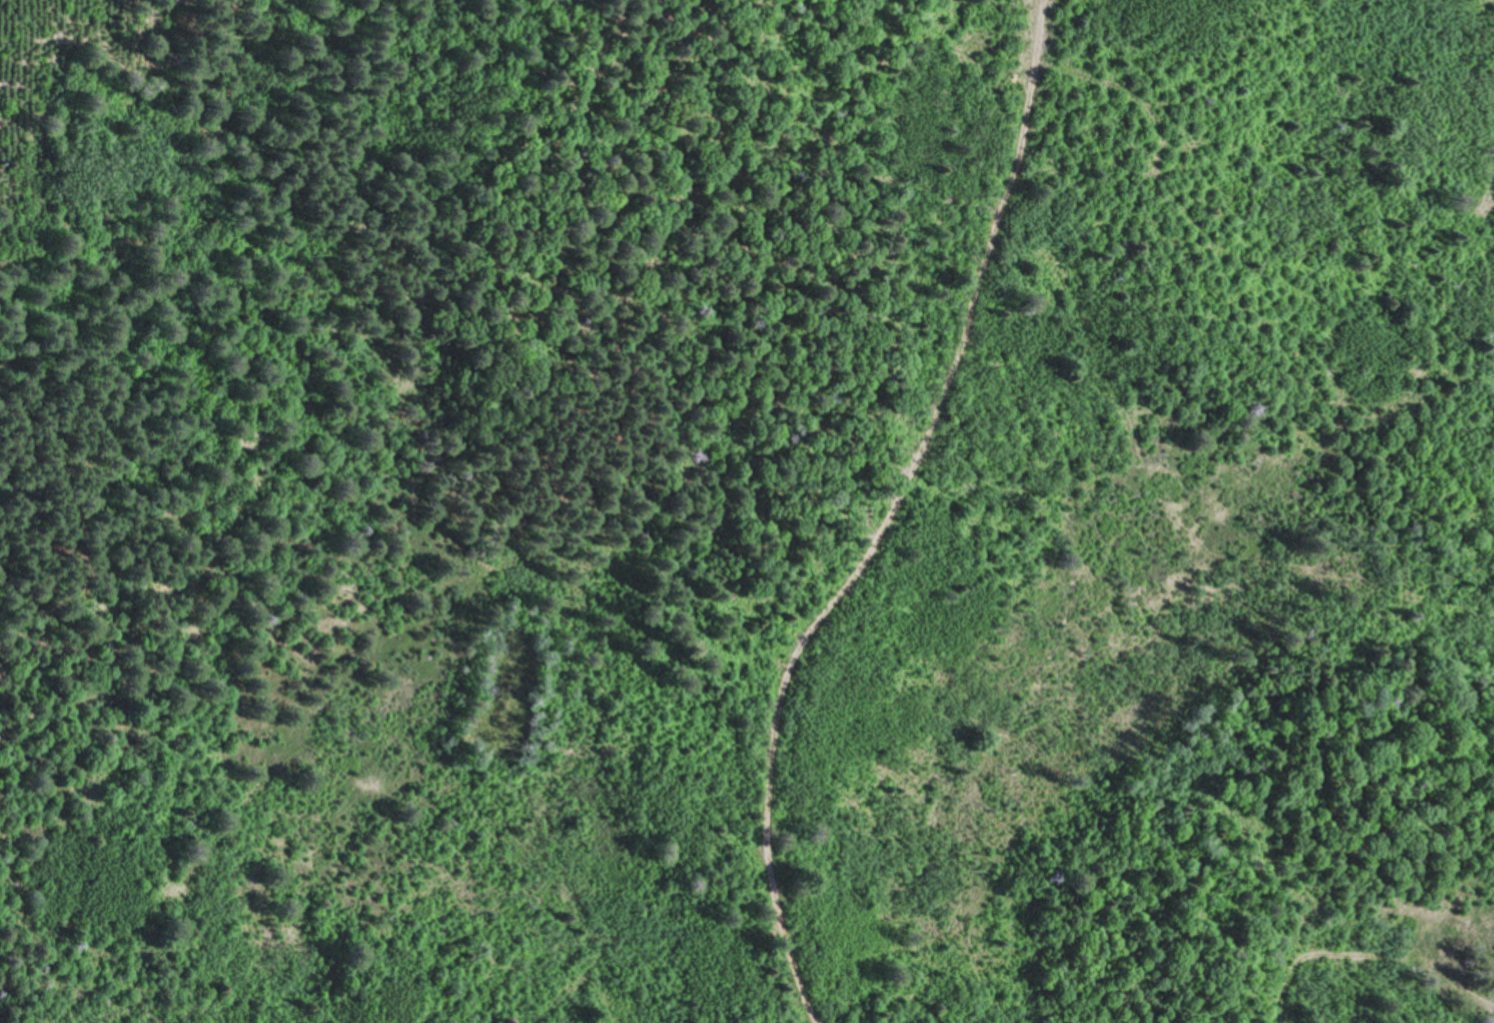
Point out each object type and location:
road: (884, 520)

